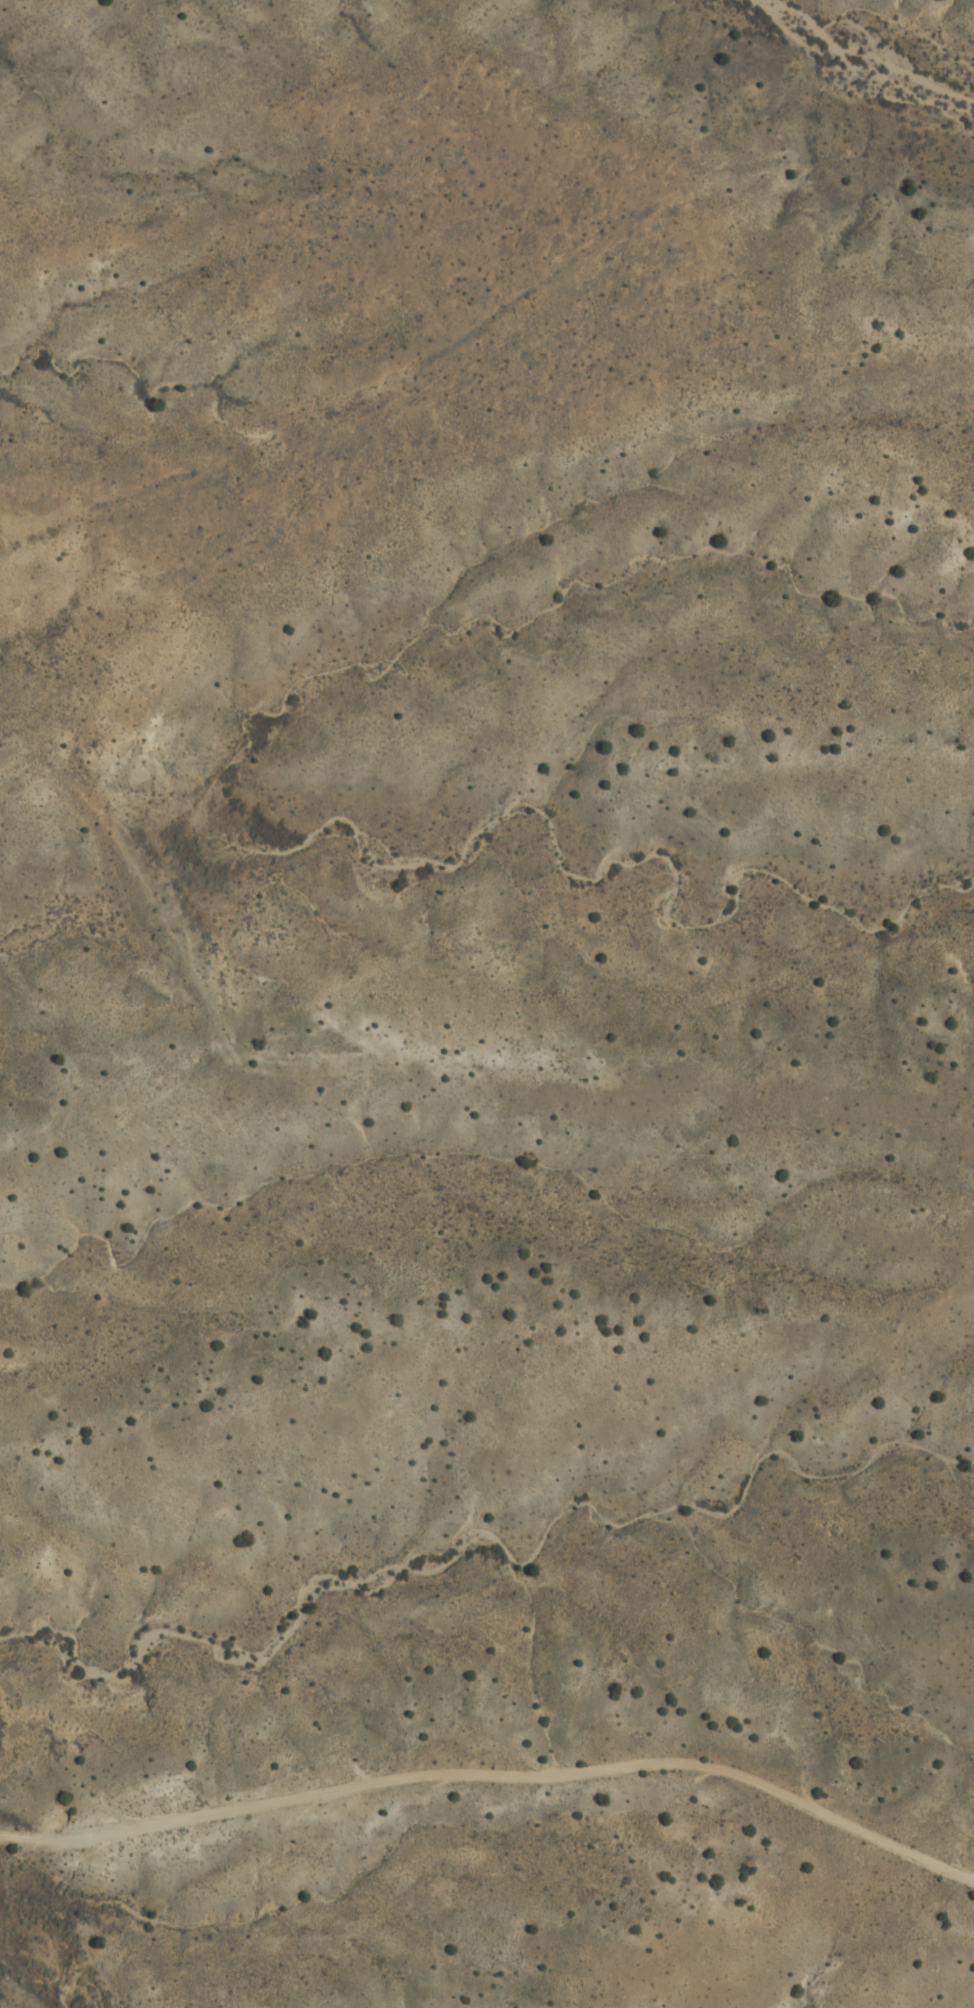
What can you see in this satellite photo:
road: (497, 1786)

